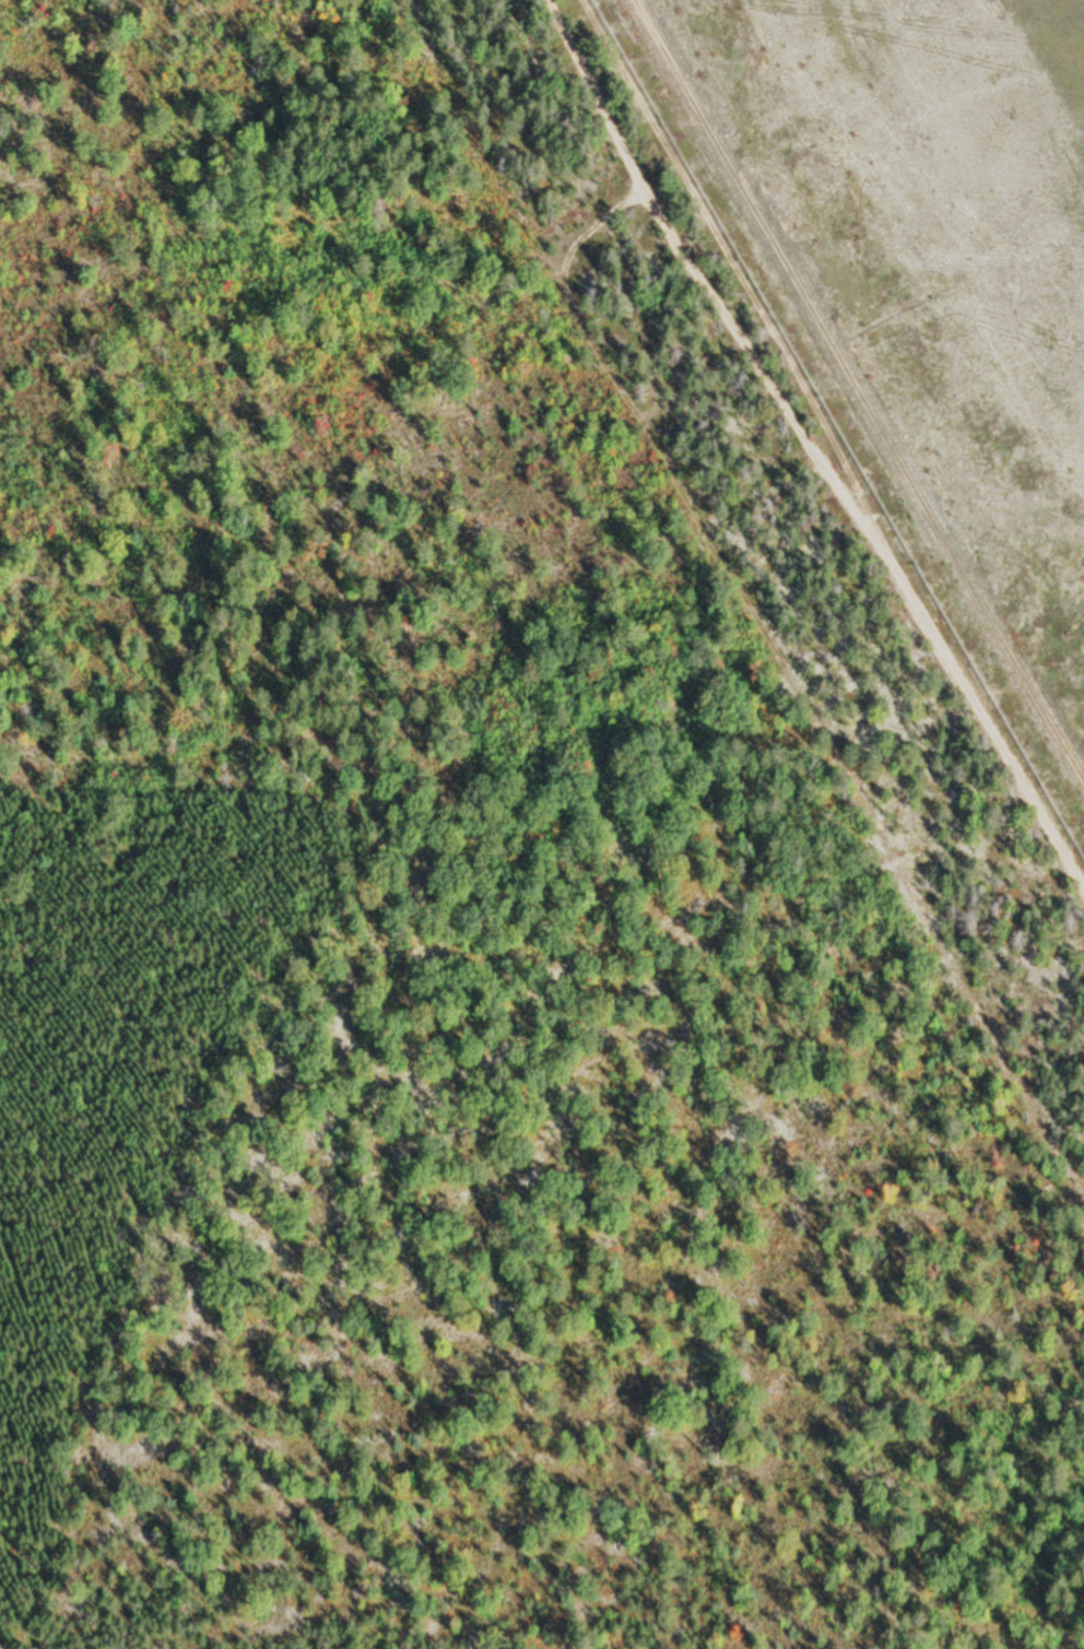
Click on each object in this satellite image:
road: (598, 94)
road: (587, 237)
airport: (918, 285)

